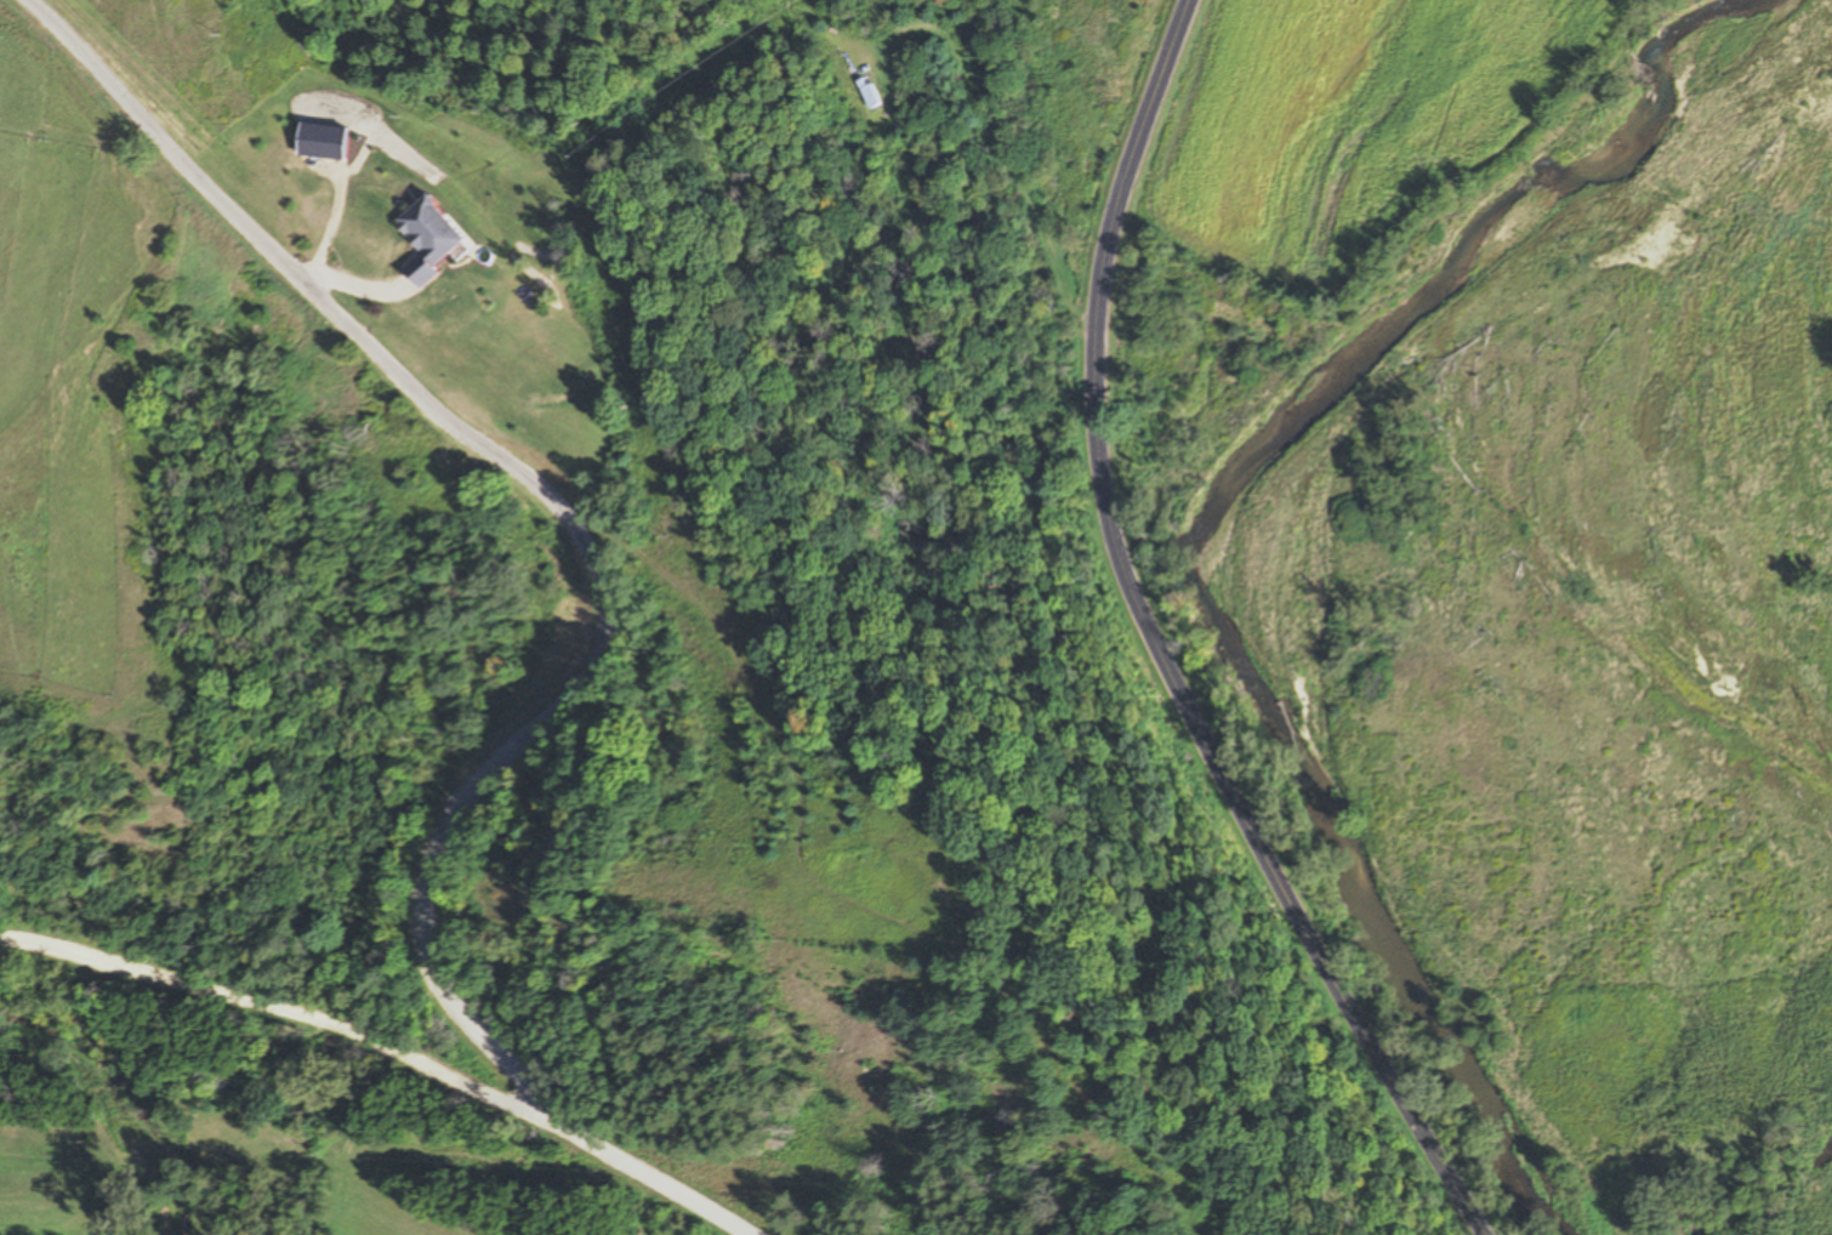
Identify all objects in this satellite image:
building: (864, 93)
building: (423, 238)
river: (1208, 540)
road: (601, 597)
road: (1159, 645)
road: (292, 1014)

